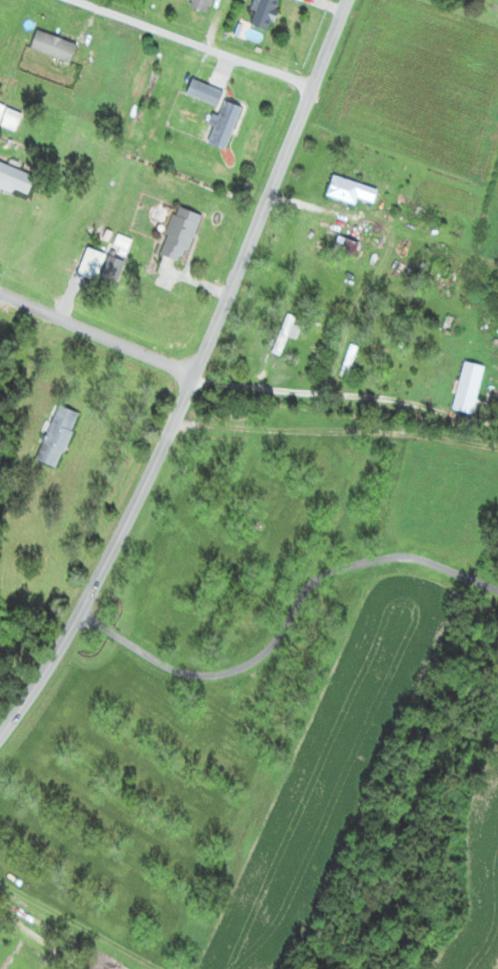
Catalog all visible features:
building: (204, 2)
building: (265, 14)
building: (1, 110)
building: (225, 124)
building: (16, 176)
building: (351, 190)
building: (418, 218)
building: (181, 233)
building: (351, 246)
building: (117, 259)
building: (440, 273)
road: (97, 332)
building: (284, 334)
building: (349, 362)
road: (197, 369)
building: (469, 387)
park: (209, 403)
building: (59, 436)

